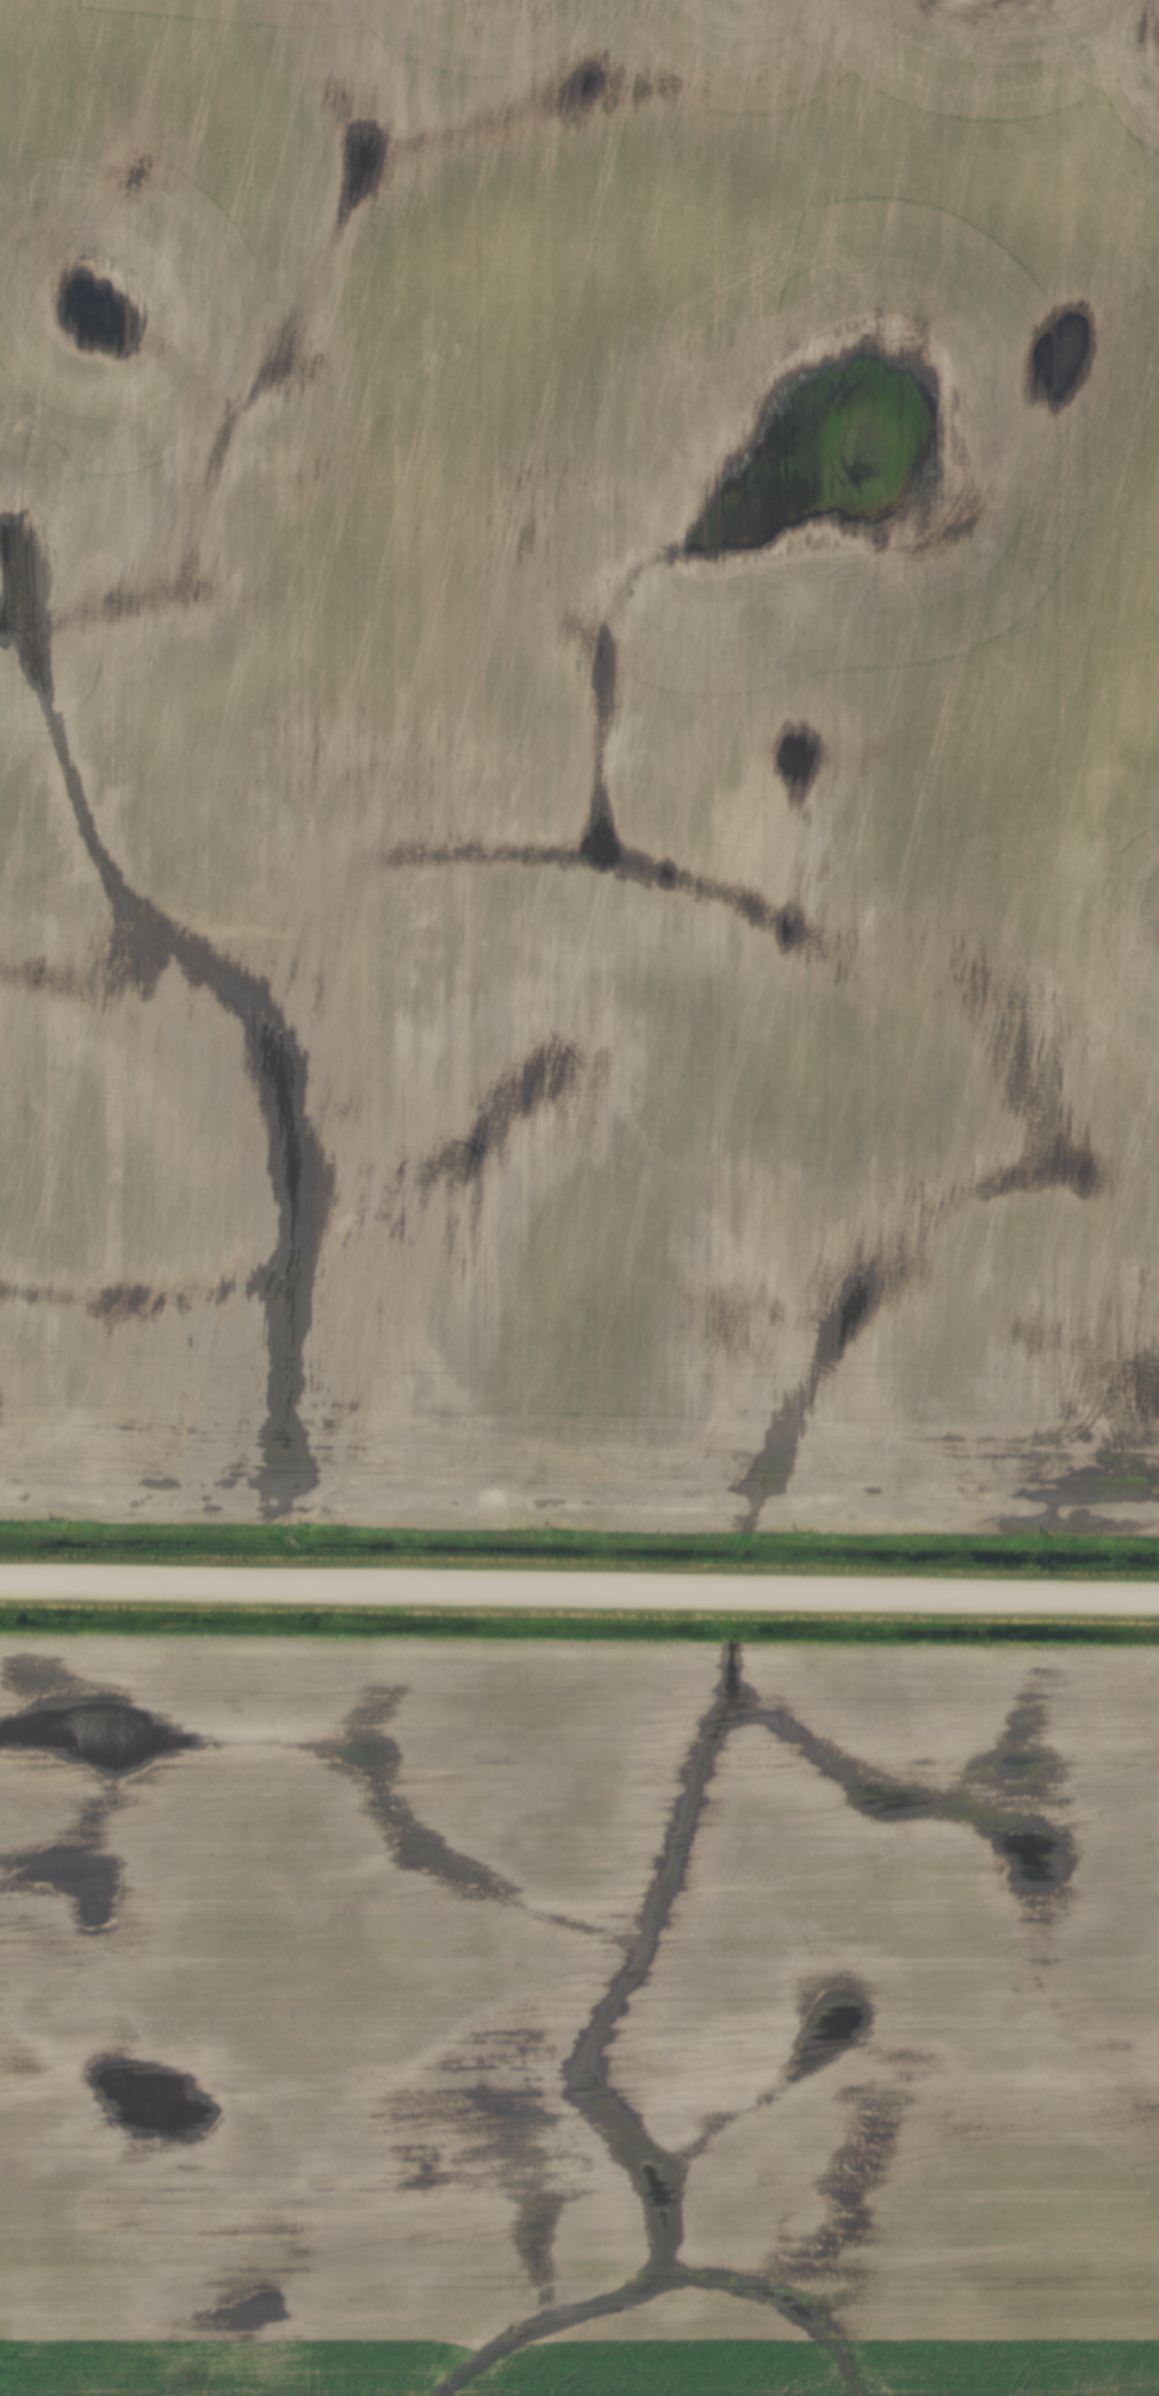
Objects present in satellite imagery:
road: (579, 1589)

